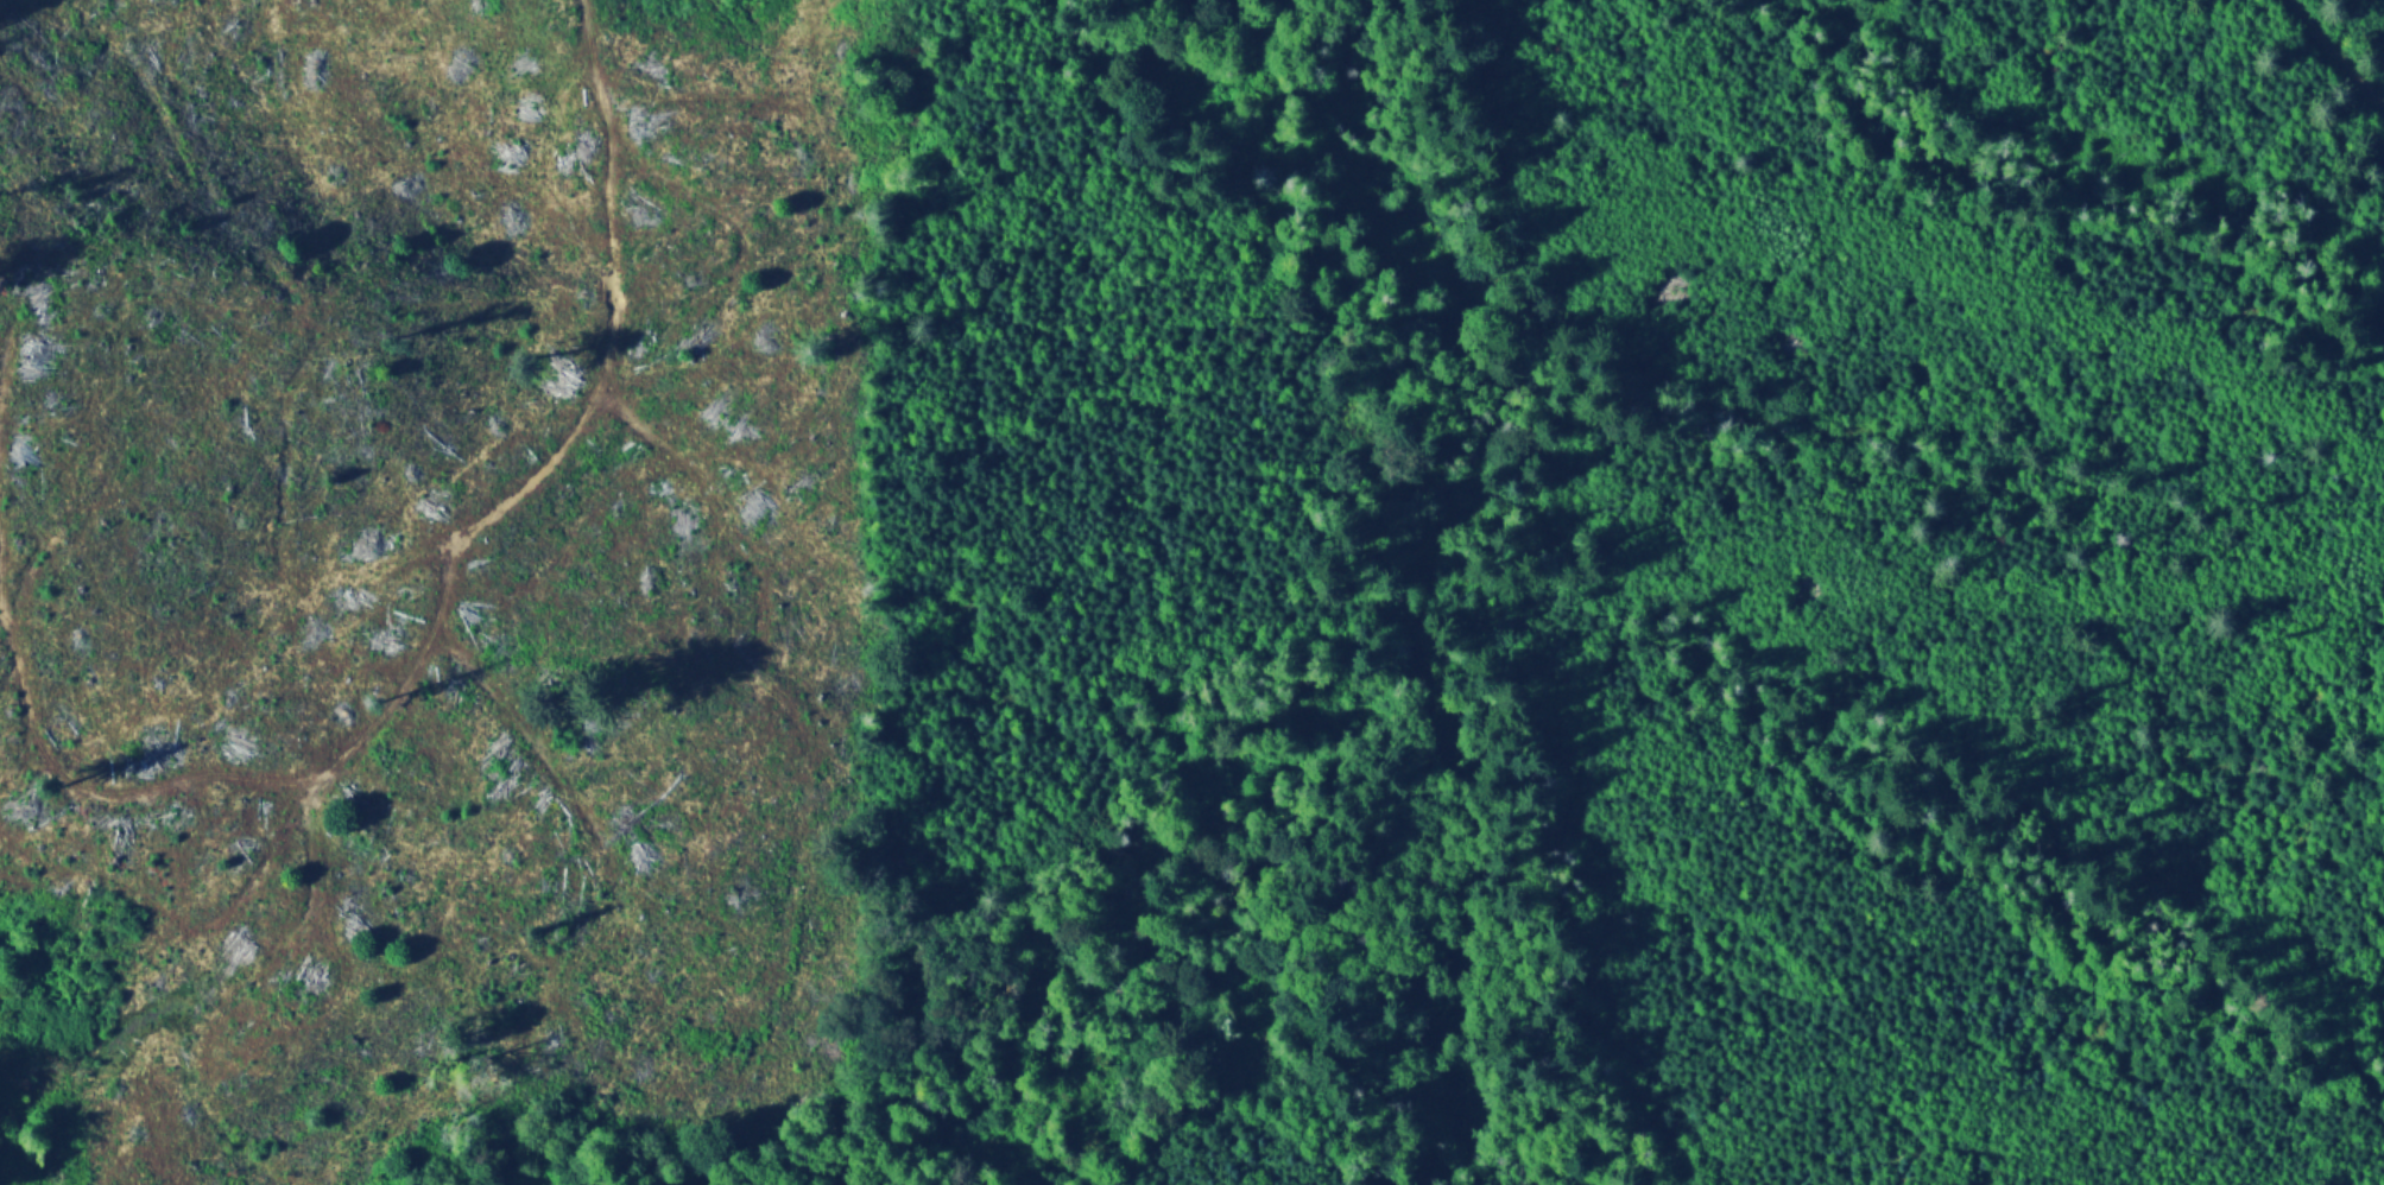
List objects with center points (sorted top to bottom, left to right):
road: (2335, 52)

